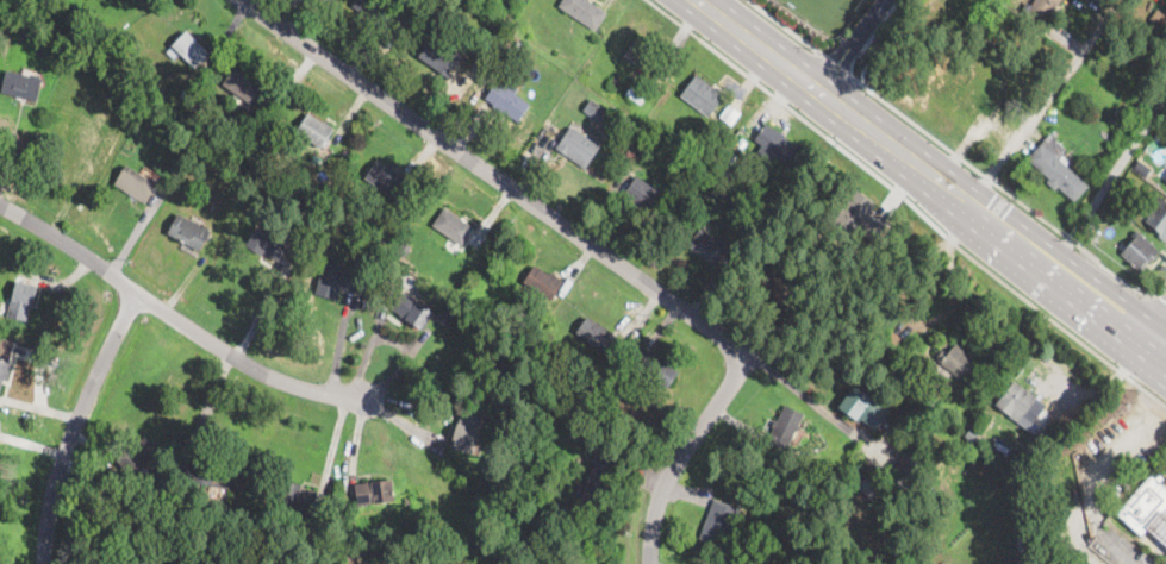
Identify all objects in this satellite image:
building: (138, 1)
building: (1041, 10)
building: (374, 12)
building: (584, 12)
park: (823, 12)
building: (25, 21)
building: (100, 25)
road: (784, 26)
building: (1160, 33)
building: (105, 35)
building: (519, 44)
road: (852, 46)
building: (191, 49)
building: (439, 56)
building: (647, 57)
road: (837, 65)
building: (615, 82)
building: (241, 84)
building: (20, 86)
building: (702, 95)
building: (635, 96)
building: (507, 100)
building: (598, 111)
building: (730, 112)
building: (1117, 118)
road: (1031, 125)
building: (314, 131)
building: (777, 144)
building: (578, 148)
building: (643, 150)
building: (700, 153)
building: (1058, 168)
road: (919, 169)
building: (1142, 169)
building: (725, 171)
building: (320, 177)
road: (1109, 180)
building: (387, 181)
road: (501, 181)
building: (136, 184)
building: (716, 189)
road: (1009, 194)
building: (643, 198)
building: (727, 198)
road: (909, 200)
building: (859, 217)
building: (1159, 217)
building: (453, 226)
building: (188, 232)
building: (267, 243)
building: (707, 246)
building: (404, 250)
building: (1140, 251)
road: (952, 268)
building: (336, 280)
building: (542, 282)
building: (778, 290)
building: (21, 300)
road: (1159, 300)
building: (445, 309)
building: (413, 311)
road: (173, 317)
road: (1153, 318)
building: (513, 333)
building: (598, 337)
road: (1158, 338)
road: (1153, 357)
building: (961, 363)
building: (4, 370)
building: (657, 371)
building: (590, 384)
building: (1015, 400)
building: (866, 407)
road: (75, 422)
building: (785, 428)
building: (466, 432)
road: (32, 444)
building: (592, 450)
road: (680, 456)
building: (137, 457)
building: (906, 474)
building: (202, 475)
building: (600, 476)
building: (1006, 483)
building: (867, 488)
building: (374, 493)
road: (1092, 493)
building: (297, 495)
building: (410, 501)
building: (131, 503)
building: (1145, 503)
building: (270, 515)
building: (718, 522)
building: (919, 524)
building: (1159, 526)
building: (343, 527)
road: (1074, 529)
building: (590, 540)
building: (152, 559)

